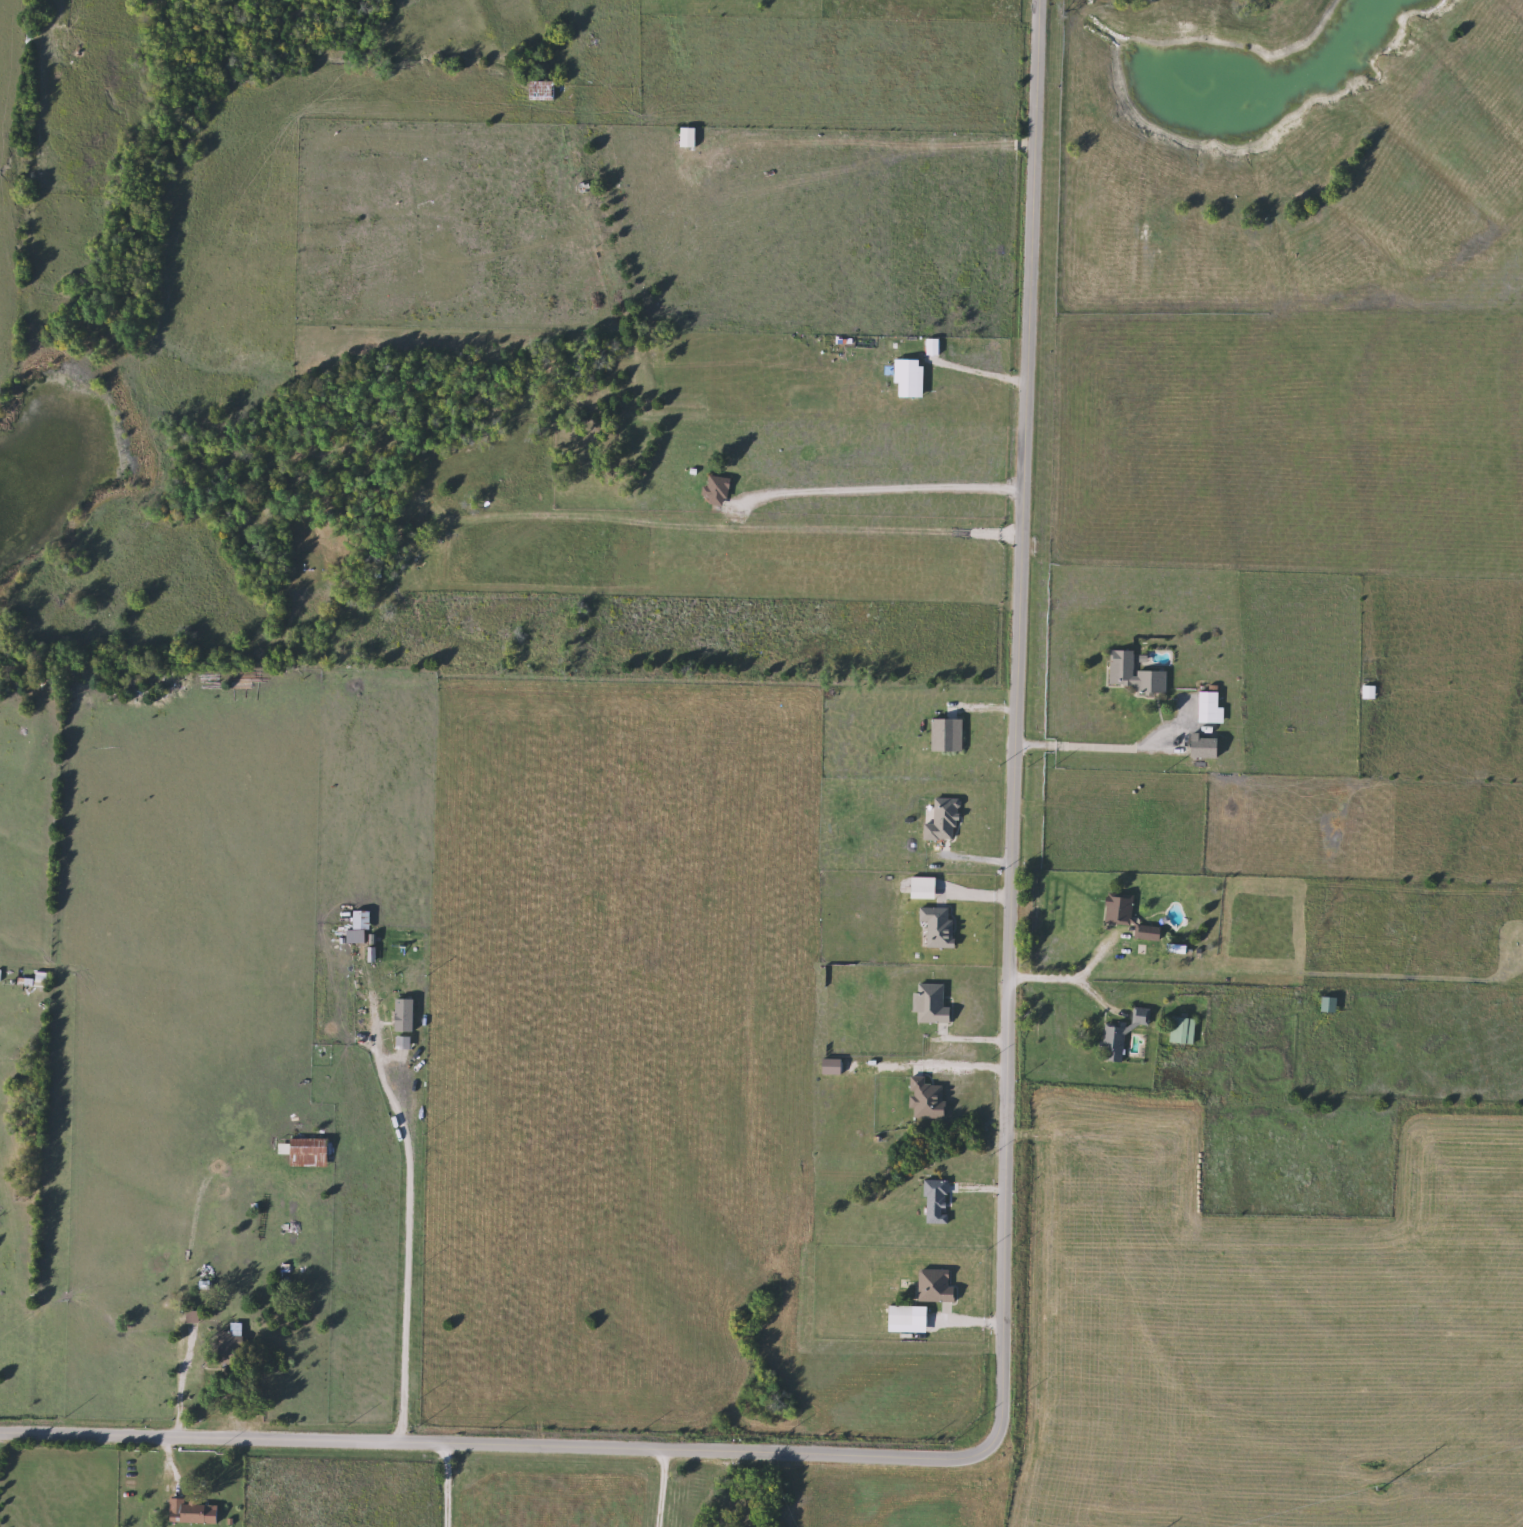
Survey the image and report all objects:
building: (544, 90)
building: (690, 137)
road: (877, 140)
road: (973, 371)
road: (879, 489)
building: (719, 491)
building: (1136, 674)
building: (1370, 692)
building: (1212, 708)
road: (1099, 738)
building: (1208, 747)
building: (1121, 910)
building: (1150, 934)
road: (1070, 977)
road: (1096, 998)
building: (1331, 1005)
building: (1185, 1031)
building: (1124, 1035)
road: (975, 1038)
road: (925, 1067)
building: (308, 1153)
road: (1003, 1221)
building: (294, 1224)
road: (404, 1252)
building: (232, 1345)
road: (178, 1390)
power tower: (1373, 1473)
road: (446, 1486)
road: (662, 1489)
building: (193, 1512)

